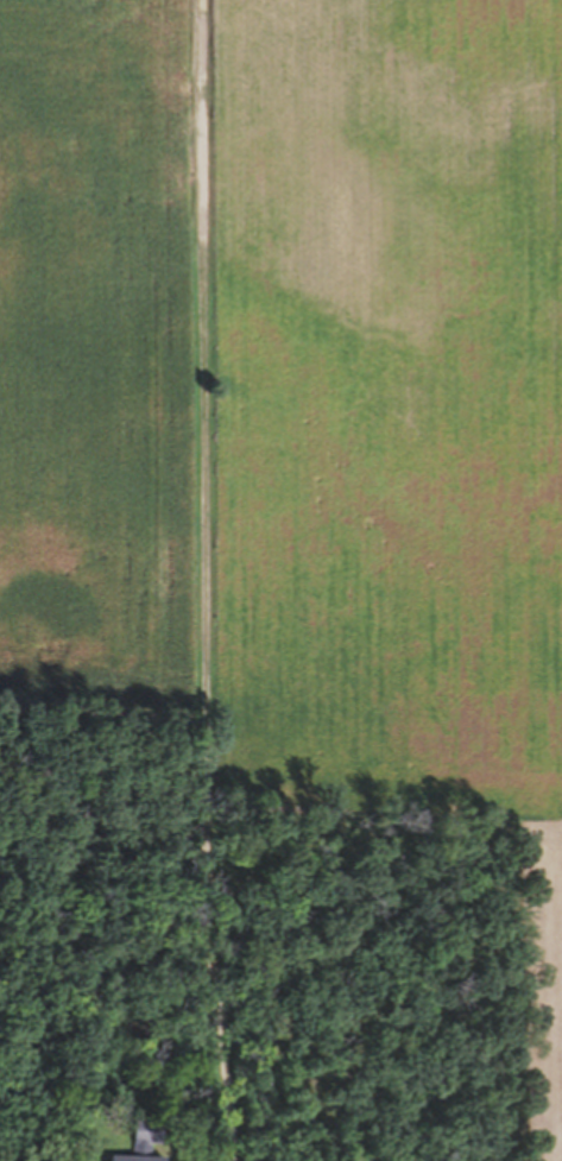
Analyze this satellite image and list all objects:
crop: (295, 393)

